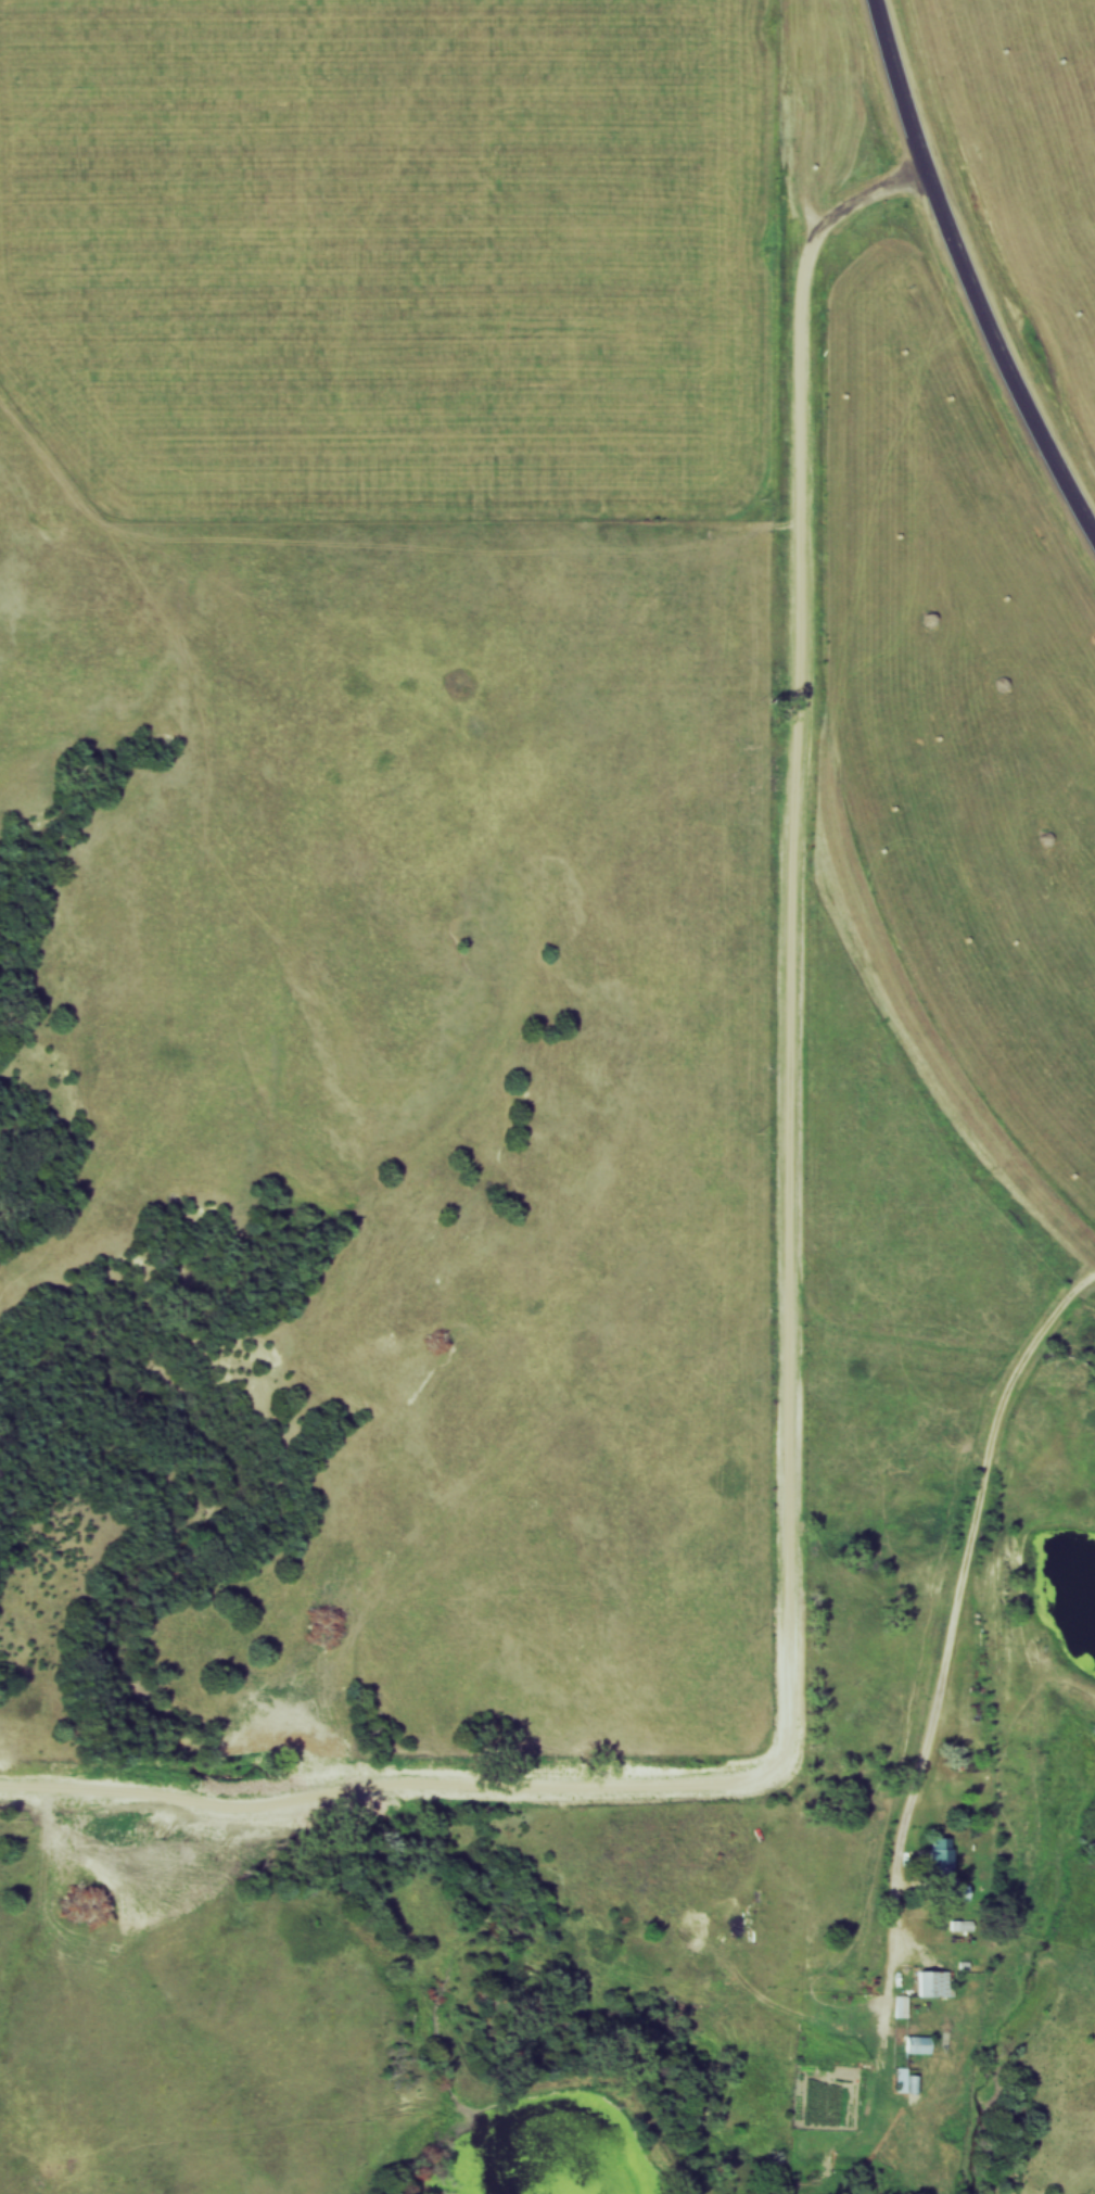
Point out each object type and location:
road: (967, 277)
road: (786, 936)
road: (967, 1563)
road: (393, 1786)
building: (938, 1859)
building: (955, 1893)
building: (930, 1984)
building: (897, 2007)
building: (915, 2045)
building: (897, 2081)

